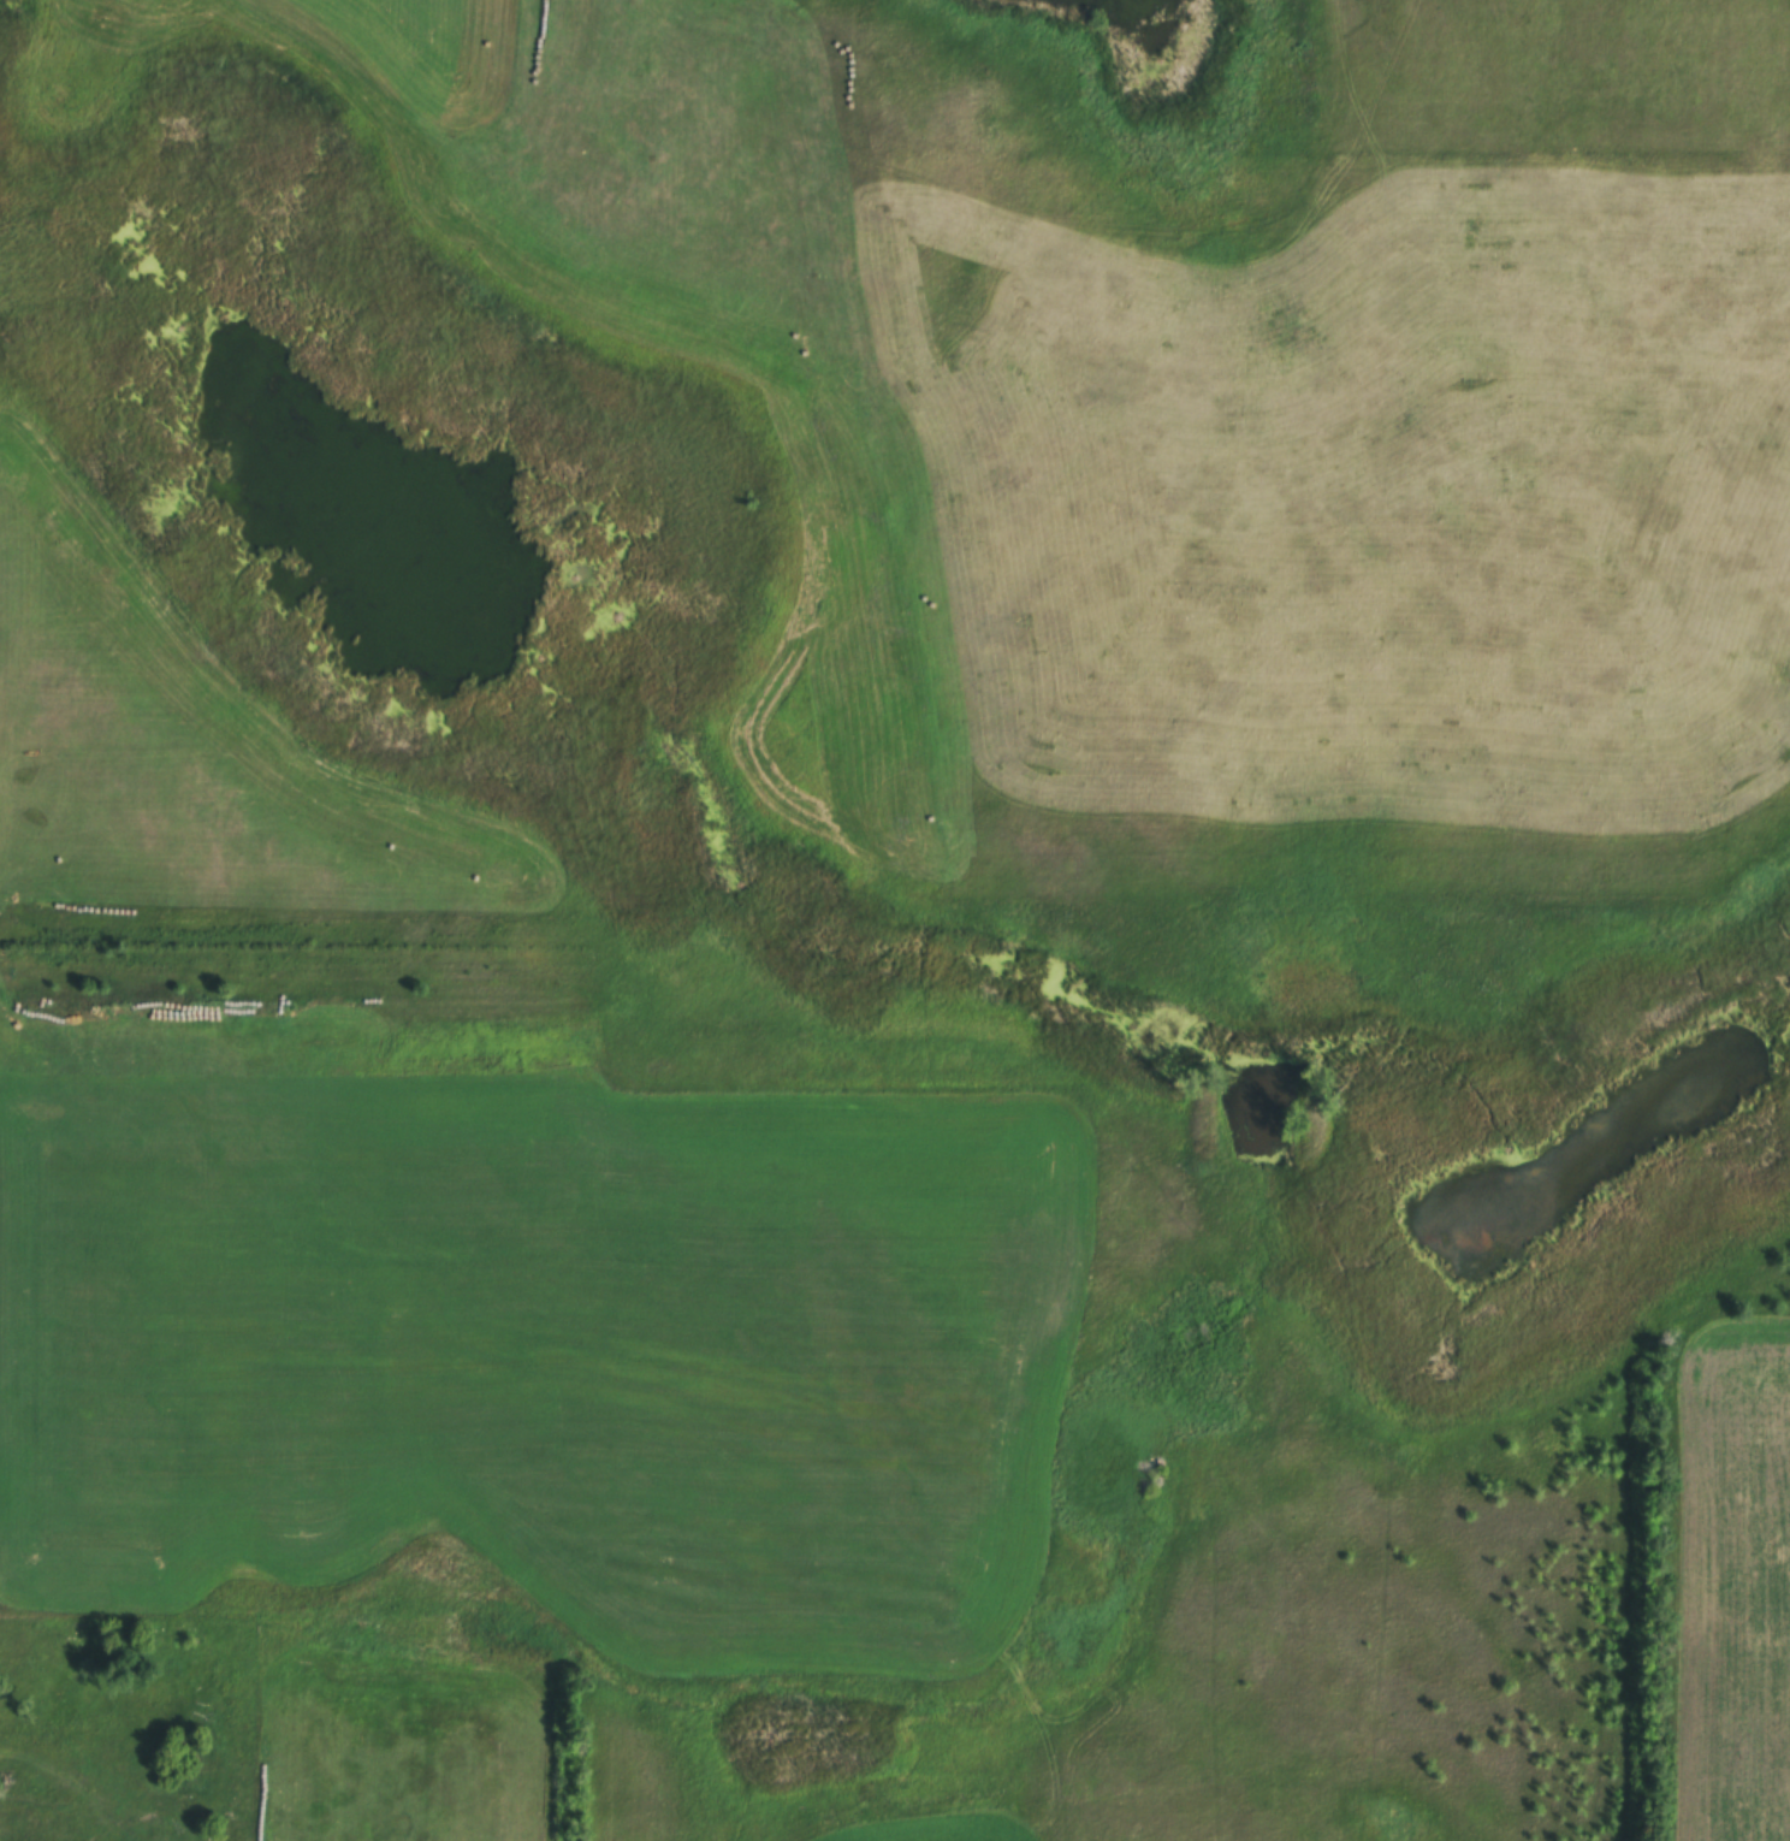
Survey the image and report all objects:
river: (381, 510)
river: (1565, 1188)

